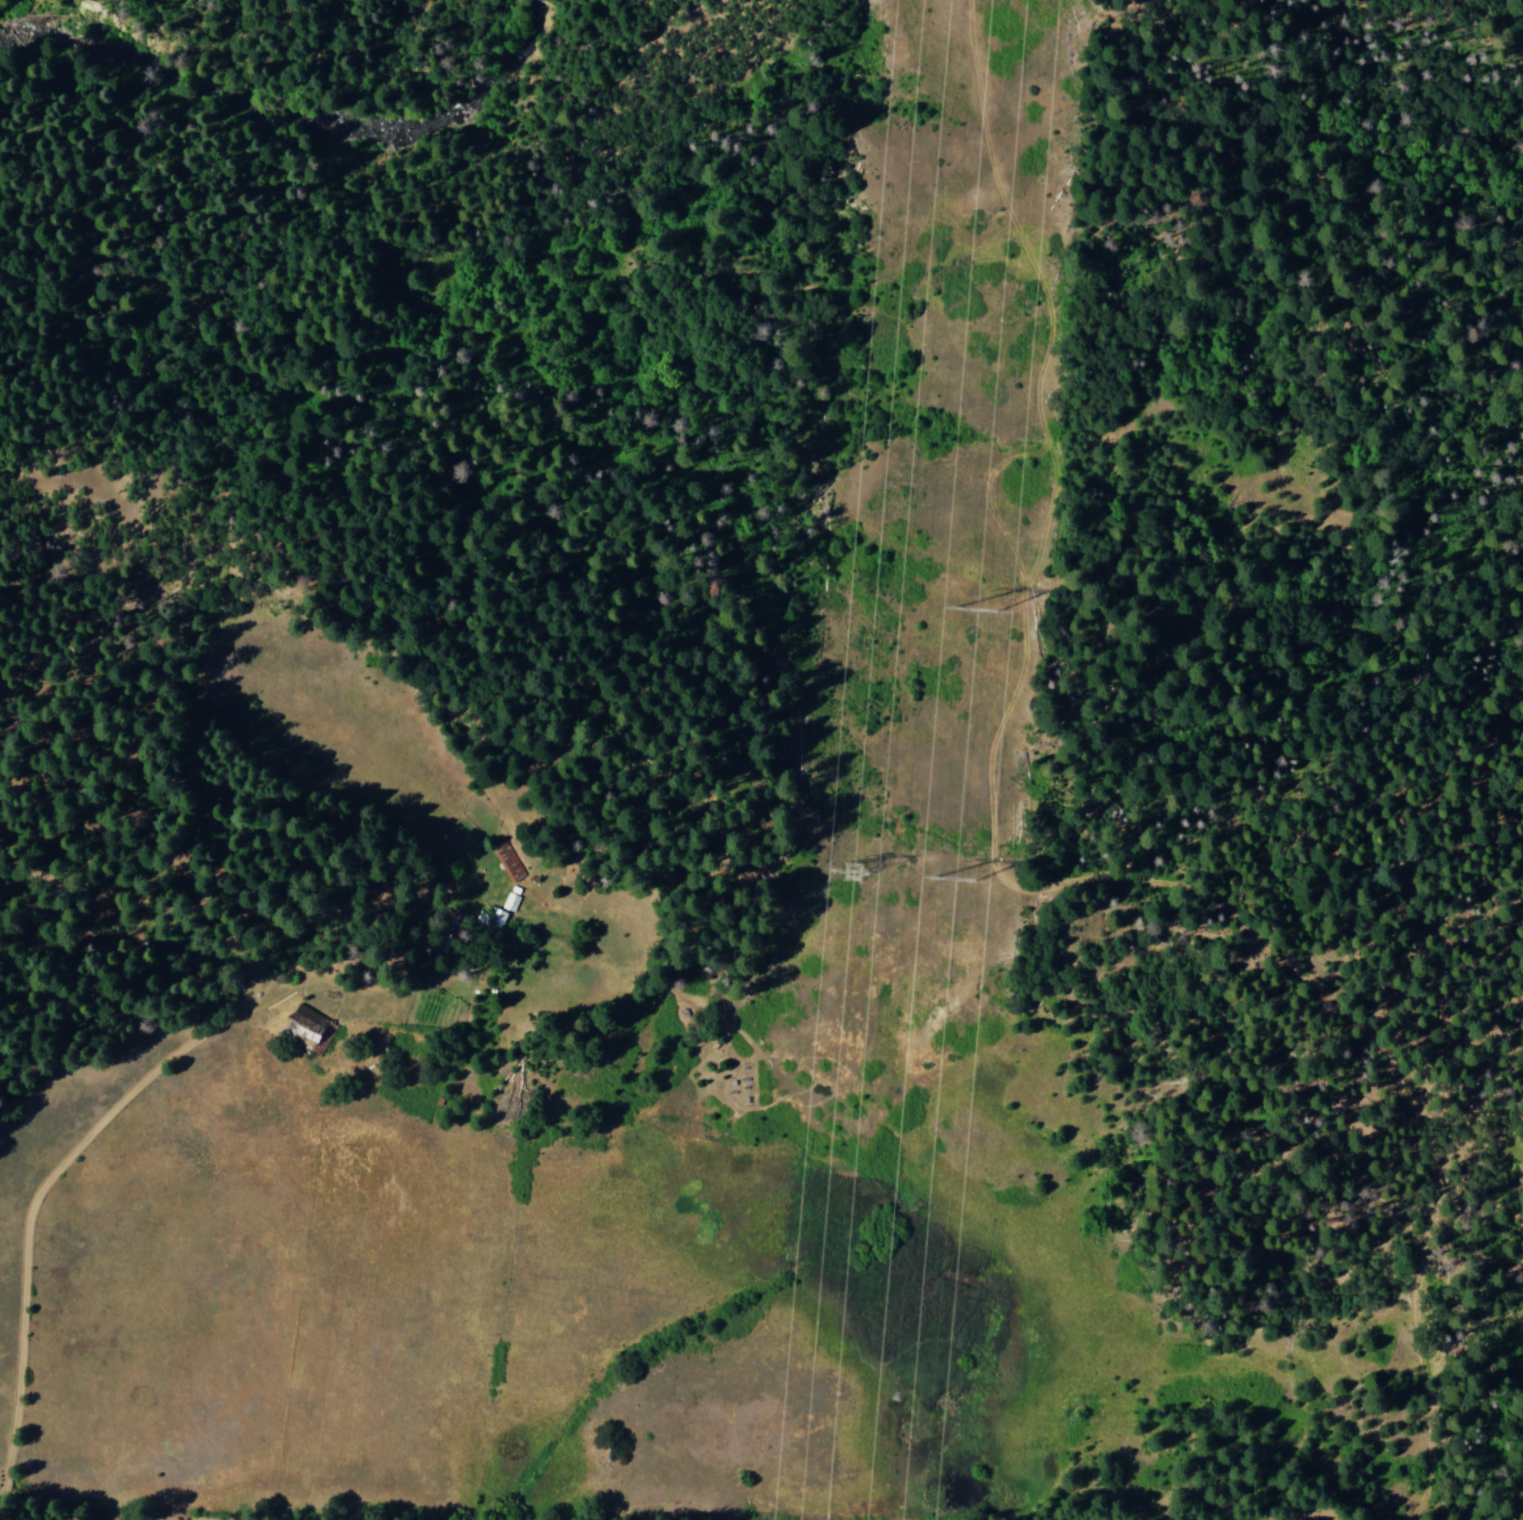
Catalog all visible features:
power tower: (962, 599)
power tower: (838, 854)
power tower: (938, 870)
building: (311, 1030)
road: (9, 1267)

